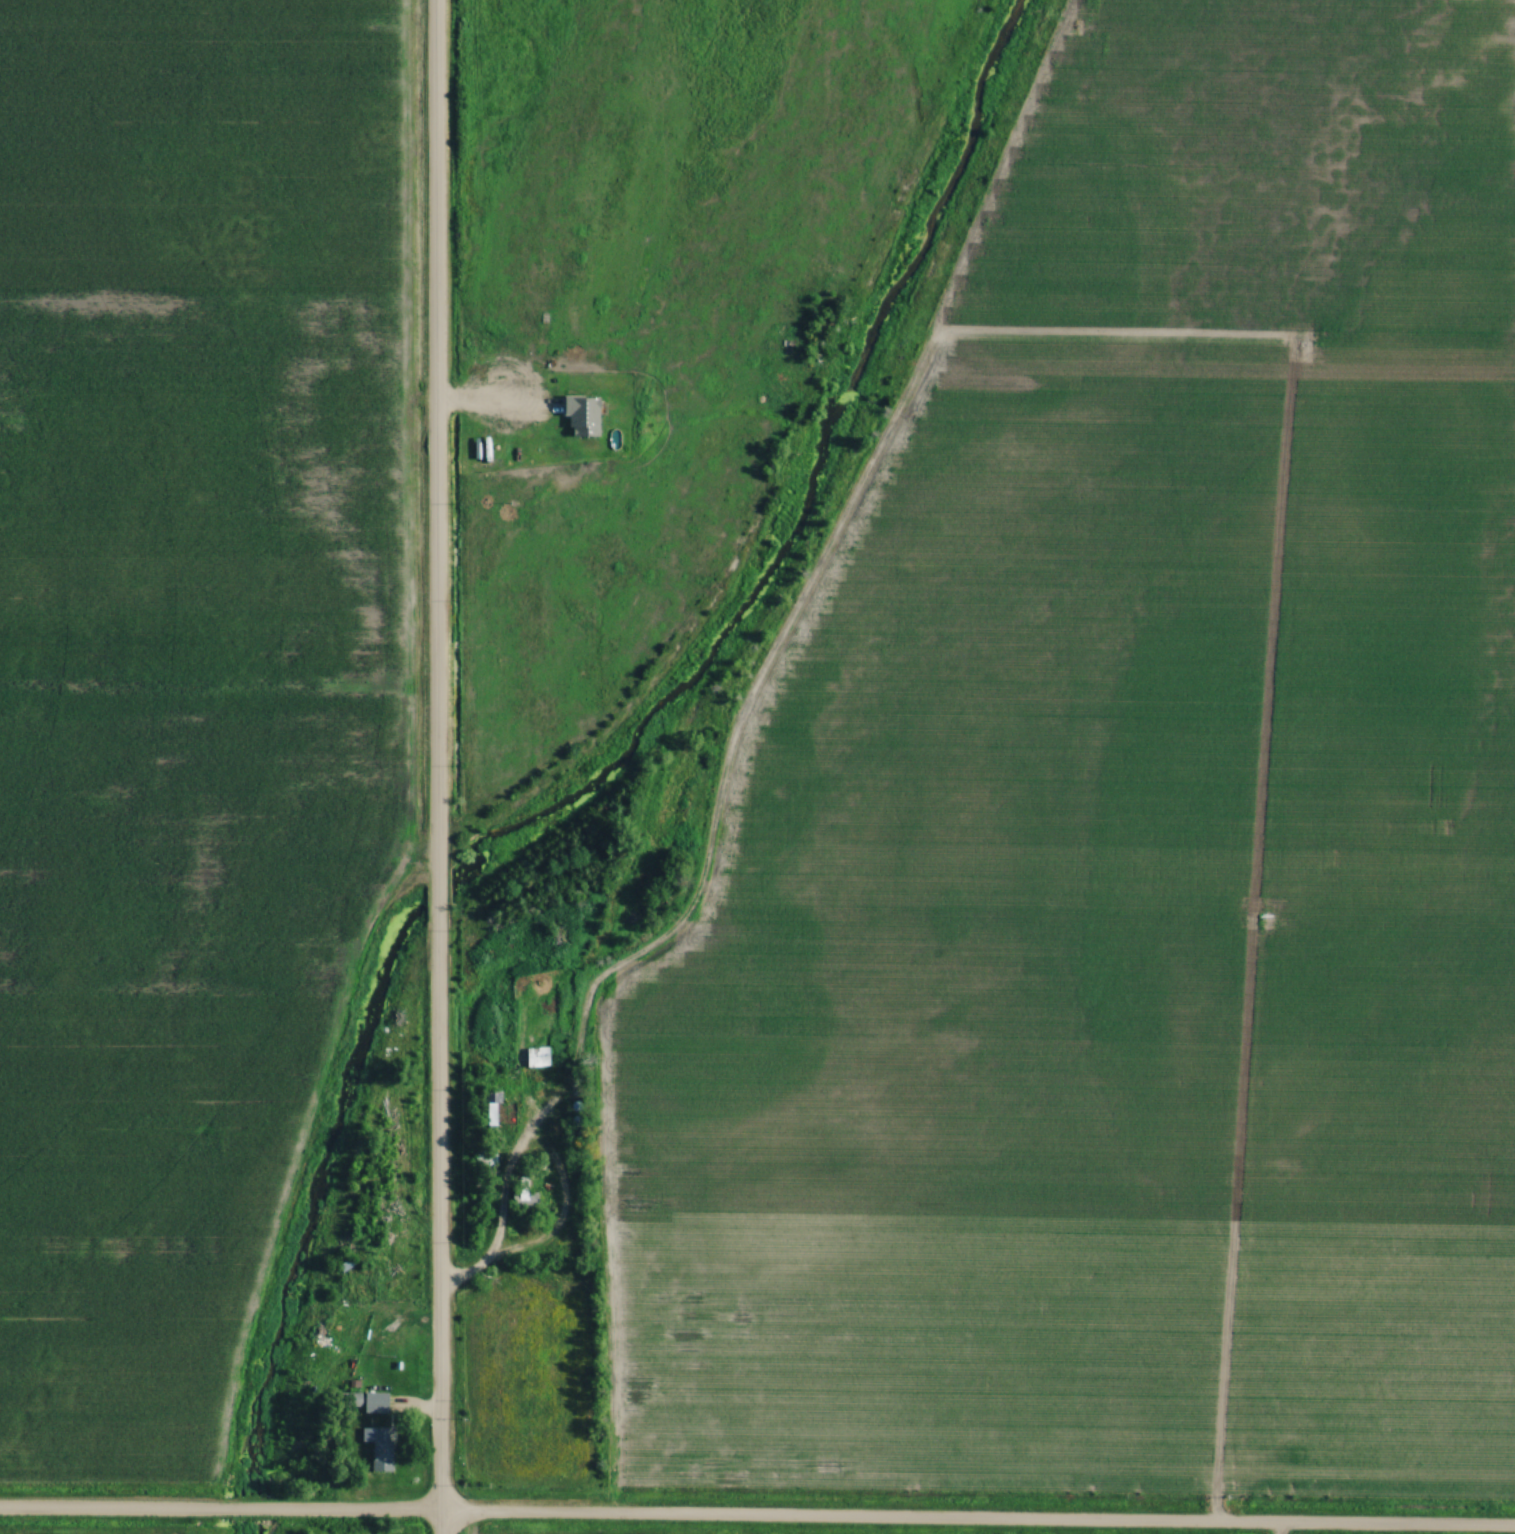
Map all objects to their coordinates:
building: (585, 416)
road: (436, 767)
building: (538, 1058)
building: (490, 1113)
building: (488, 1156)
building: (527, 1195)
road: (489, 1246)
building: (348, 1266)
building: (383, 1450)
road: (757, 1520)

